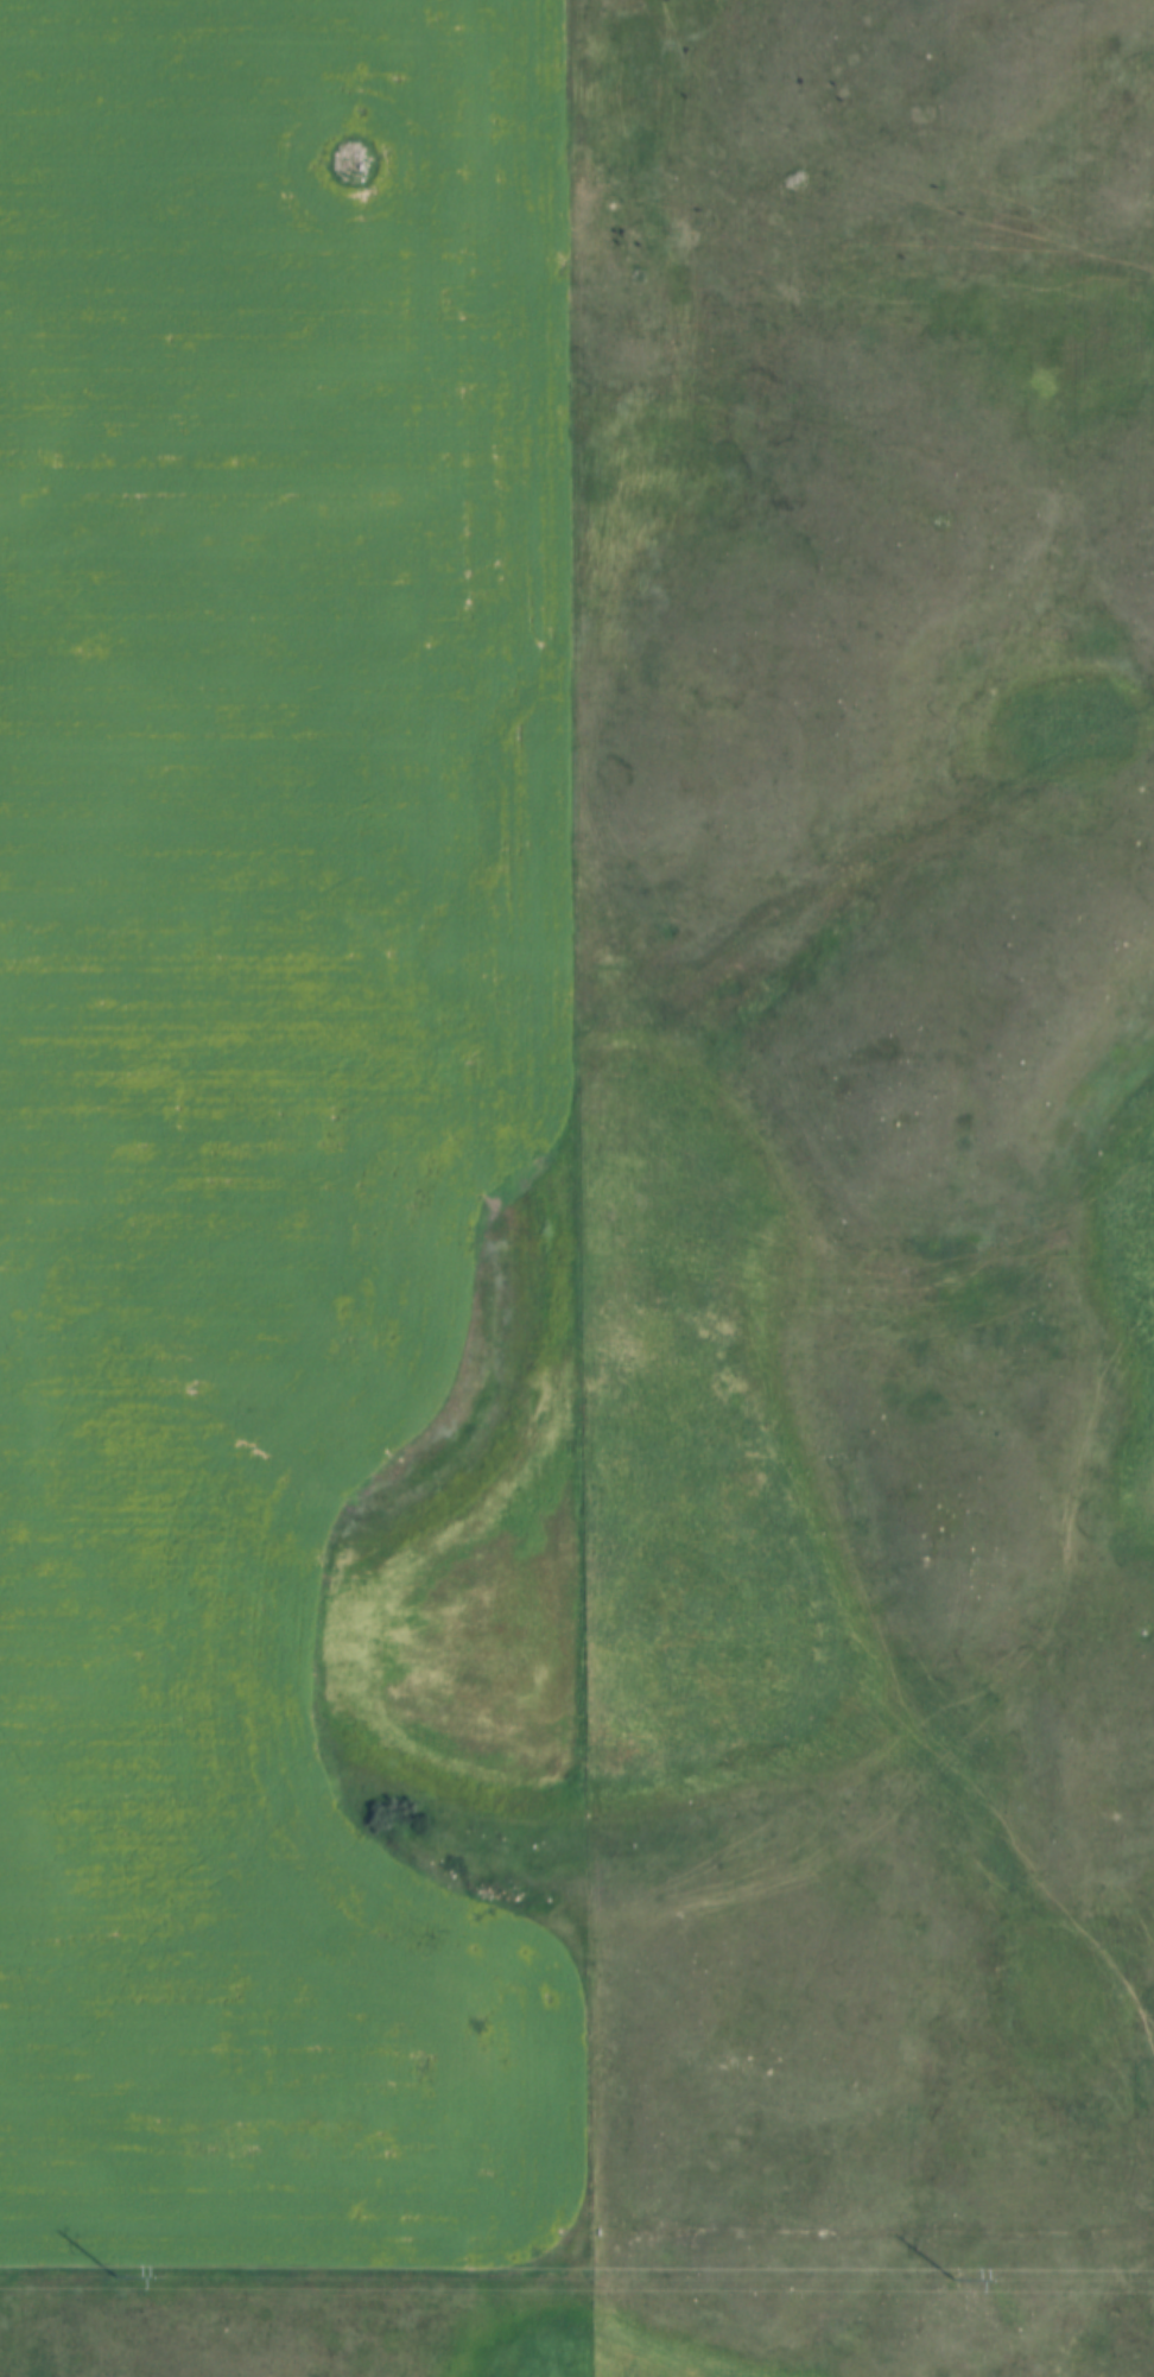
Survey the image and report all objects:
power tower: (113, 2275)
power tower: (950, 2280)

